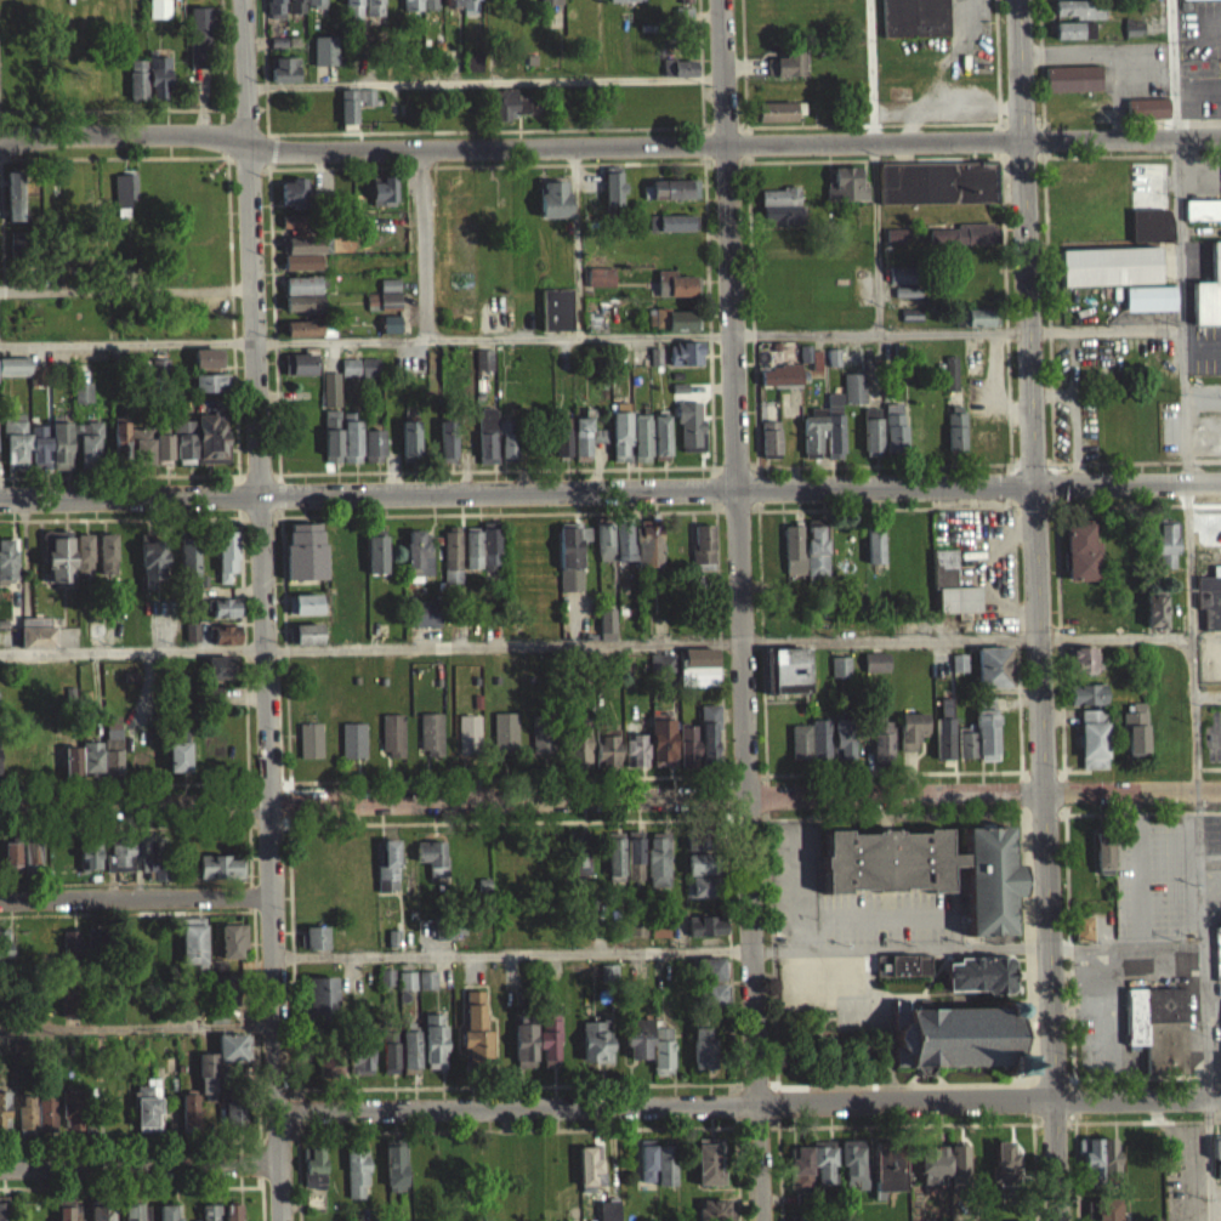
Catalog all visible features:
building: (685, 1)
building: (1199, 4)
building: (625, 5)
building: (313, 7)
building: (549, 7)
building: (419, 8)
building: (462, 10)
building: (295, 11)
building: (274, 13)
building: (352, 13)
building: (373, 16)
building: (158, 17)
road: (966, 18)
building: (1077, 18)
building: (913, 22)
building: (1132, 38)
building: (1073, 39)
building: (199, 45)
building: (324, 59)
building: (472, 70)
road: (869, 73)
building: (785, 74)
building: (677, 76)
building: (284, 79)
building: (158, 84)
building: (1070, 87)
building: (136, 89)
road: (947, 102)
building: (353, 112)
road: (891, 112)
building: (507, 113)
building: (1146, 118)
building: (777, 120)
road: (21, 135)
road: (21, 141)
road: (630, 146)
building: (936, 192)
building: (845, 194)
building: (124, 195)
building: (613, 198)
building: (668, 199)
building: (382, 200)
building: (291, 203)
building: (12, 205)
building: (552, 209)
building: (779, 215)
building: (1202, 220)
building: (293, 232)
building: (671, 232)
building: (1149, 234)
road: (874, 239)
building: (962, 244)
road: (424, 248)
building: (17, 254)
building: (307, 255)
building: (301, 271)
building: (1108, 276)
building: (898, 284)
building: (598, 286)
road: (125, 289)
building: (301, 294)
building: (388, 294)
building: (675, 294)
building: (905, 301)
building: (1208, 301)
building: (1148, 307)
building: (382, 309)
building: (301, 313)
building: (556, 318)
building: (909, 323)
building: (978, 326)
building: (674, 329)
building: (388, 333)
road: (881, 334)
building: (302, 337)
road: (493, 348)
road: (126, 353)
building: (685, 363)
building: (206, 367)
building: (483, 369)
building: (297, 374)
building: (348, 376)
building: (369, 376)
building: (22, 379)
building: (950, 382)
building: (779, 385)
building: (210, 392)
building: (853, 397)
building: (81, 402)
building: (689, 436)
building: (955, 437)
building: (824, 438)
building: (893, 442)
building: (620, 445)
building: (494, 447)
building: (573, 447)
building: (640, 447)
building: (659, 447)
building: (870, 447)
building: (769, 448)
building: (119, 449)
building: (210, 449)
building: (15, 450)
building: (351, 450)
building: (409, 450)
building: (447, 450)
building: (984, 450)
building: (183, 452)
building: (39, 453)
building: (87, 453)
building: (59, 455)
building: (331, 455)
building: (371, 455)
building: (161, 458)
building: (143, 459)
road: (1035, 472)
road: (737, 473)
traffic signals: (1037, 483)
road: (624, 489)
road: (15, 498)
road: (15, 501)
building: (623, 550)
building: (603, 551)
building: (1164, 551)
building: (873, 552)
building: (648, 553)
building: (471, 558)
building: (489, 558)
building: (793, 558)
building: (303, 561)
building: (816, 561)
building: (416, 562)
building: (1080, 562)
building: (375, 563)
building: (58, 564)
building: (83, 564)
building: (106, 564)
building: (225, 564)
building: (452, 564)
building: (569, 566)
building: (152, 567)
building: (7, 570)
building: (188, 570)
building: (950, 595)
building: (1209, 608)
road: (262, 609)
building: (303, 613)
building: (1089, 615)
building: (225, 618)
building: (1154, 620)
building: (424, 623)
building: (193, 630)
building: (38, 631)
building: (606, 631)
building: (306, 632)
building: (228, 634)
building: (191, 641)
road: (596, 642)
building: (223, 643)
building: (303, 643)
building: (1081, 658)
building: (661, 660)
building: (876, 660)
building: (960, 661)
building: (841, 664)
building: (223, 666)
building: (698, 666)
building: (994, 666)
building: (790, 671)
building: (875, 671)
building: (958, 672)
building: (132, 675)
building: (577, 675)
building: (660, 675)
building: (218, 676)
building: (839, 676)
building: (1086, 693)
building: (214, 694)
building: (1135, 726)
building: (913, 728)
building: (505, 729)
building: (944, 729)
building: (431, 732)
building: (544, 732)
building: (394, 733)
building: (470, 733)
building: (987, 734)
building: (710, 737)
building: (820, 737)
building: (1094, 737)
building: (312, 738)
building: (354, 738)
building: (882, 738)
building: (663, 740)
building: (801, 740)
building: (966, 740)
building: (579, 742)
building: (844, 742)
building: (689, 744)
building: (607, 745)
building: (636, 748)
building: (178, 749)
building: (113, 753)
building: (965, 754)
building: (92, 757)
building: (73, 762)
road: (544, 776)
road: (1063, 779)
road: (610, 796)
road: (250, 816)
road: (511, 819)
building: (703, 839)
building: (695, 851)
building: (1103, 851)
building: (90, 852)
building: (121, 852)
road: (1023, 852)
road: (1198, 852)
building: (579, 853)
building: (615, 854)
building: (635, 854)
road: (727, 854)
road: (769, 854)
building: (33, 856)
road: (290, 857)
building: (433, 857)
building: (13, 858)
building: (659, 859)
building: (888, 862)
building: (157, 864)
building: (222, 864)
building: (704, 864)
building: (388, 867)
building: (699, 874)
building: (218, 876)
building: (154, 878)
road: (125, 880)
building: (990, 880)
building: (706, 885)
building: (702, 895)
road: (136, 897)
road: (126, 909)
building: (637, 925)
building: (449, 926)
building: (705, 926)
building: (619, 927)
building: (1084, 927)
building: (394, 936)
building: (705, 936)
building: (98, 937)
building: (314, 937)
building: (636, 937)
building: (234, 939)
building: (448, 939)
building: (194, 941)
road: (1125, 944)
building: (5, 945)
road: (901, 947)
building: (72, 948)
road: (512, 952)
building: (1217, 962)
building: (903, 964)
building: (711, 969)
building: (609, 971)
building: (387, 975)
building: (902, 975)
building: (982, 976)
building: (407, 978)
building: (426, 978)
building: (607, 982)
building: (385, 987)
building: (225, 988)
building: (425, 989)
building: (405, 990)
building: (712, 994)
building: (318, 1000)
building: (72, 1001)
building: (67, 1015)
building: (218, 1016)
road: (136, 1026)
building: (1158, 1026)
building: (475, 1029)
building: (550, 1035)
building: (524, 1037)
building: (638, 1037)
building: (958, 1037)
building: (597, 1039)
building: (435, 1040)
building: (137, 1043)
building: (703, 1043)
building: (22, 1045)
building: (663, 1045)
building: (234, 1046)
building: (359, 1047)
building: (409, 1051)
building: (390, 1056)
building: (329, 1058)
building: (208, 1072)
building: (227, 1073)
road: (1147, 1074)
road: (536, 1083)
road: (926, 1083)
road: (1054, 1083)
road: (756, 1084)
road: (746, 1102)
building: (148, 1104)
building: (47, 1107)
building: (74, 1107)
building: (5, 1111)
building: (191, 1111)
building: (235, 1112)
building: (95, 1113)
building: (27, 1114)
road: (759, 1124)
road: (148, 1140)
road: (1077, 1148)
building: (1217, 1154)
building: (648, 1159)
building: (1090, 1159)
road: (136, 1160)
road: (257, 1160)
building: (709, 1160)
building: (1109, 1160)
building: (823, 1162)
building: (853, 1162)
building: (1005, 1163)
building: (396, 1164)
building: (932, 1164)
building: (665, 1165)
building: (800, 1165)
building: (888, 1165)
building: (959, 1165)
building: (313, 1166)
building: (357, 1169)
building: (590, 1169)
road: (131, 1185)
building: (803, 1196)
building: (314, 1199)
road: (262, 1202)
building: (1107, 1209)
building: (609, 1210)
building: (714, 1210)
building: (4, 1211)
building: (136, 1211)
building: (64, 1213)
building: (102, 1213)
building: (170, 1213)
building: (210, 1213)
building: (233, 1213)
building: (801, 1217)

